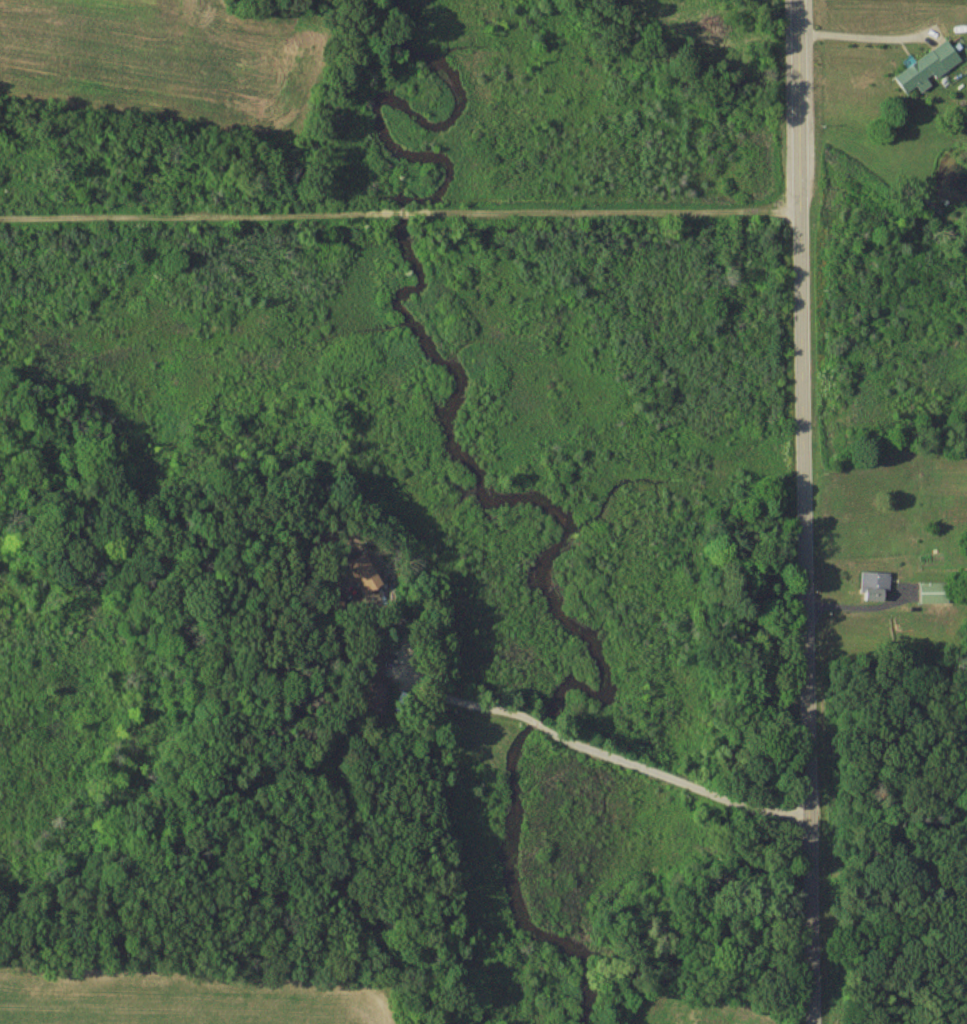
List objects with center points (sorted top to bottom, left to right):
road: (868, 38)
building: (928, 69)
road: (802, 103)
road: (401, 210)
building: (877, 588)
building: (937, 594)
road: (808, 616)
building: (379, 683)
road: (602, 757)

